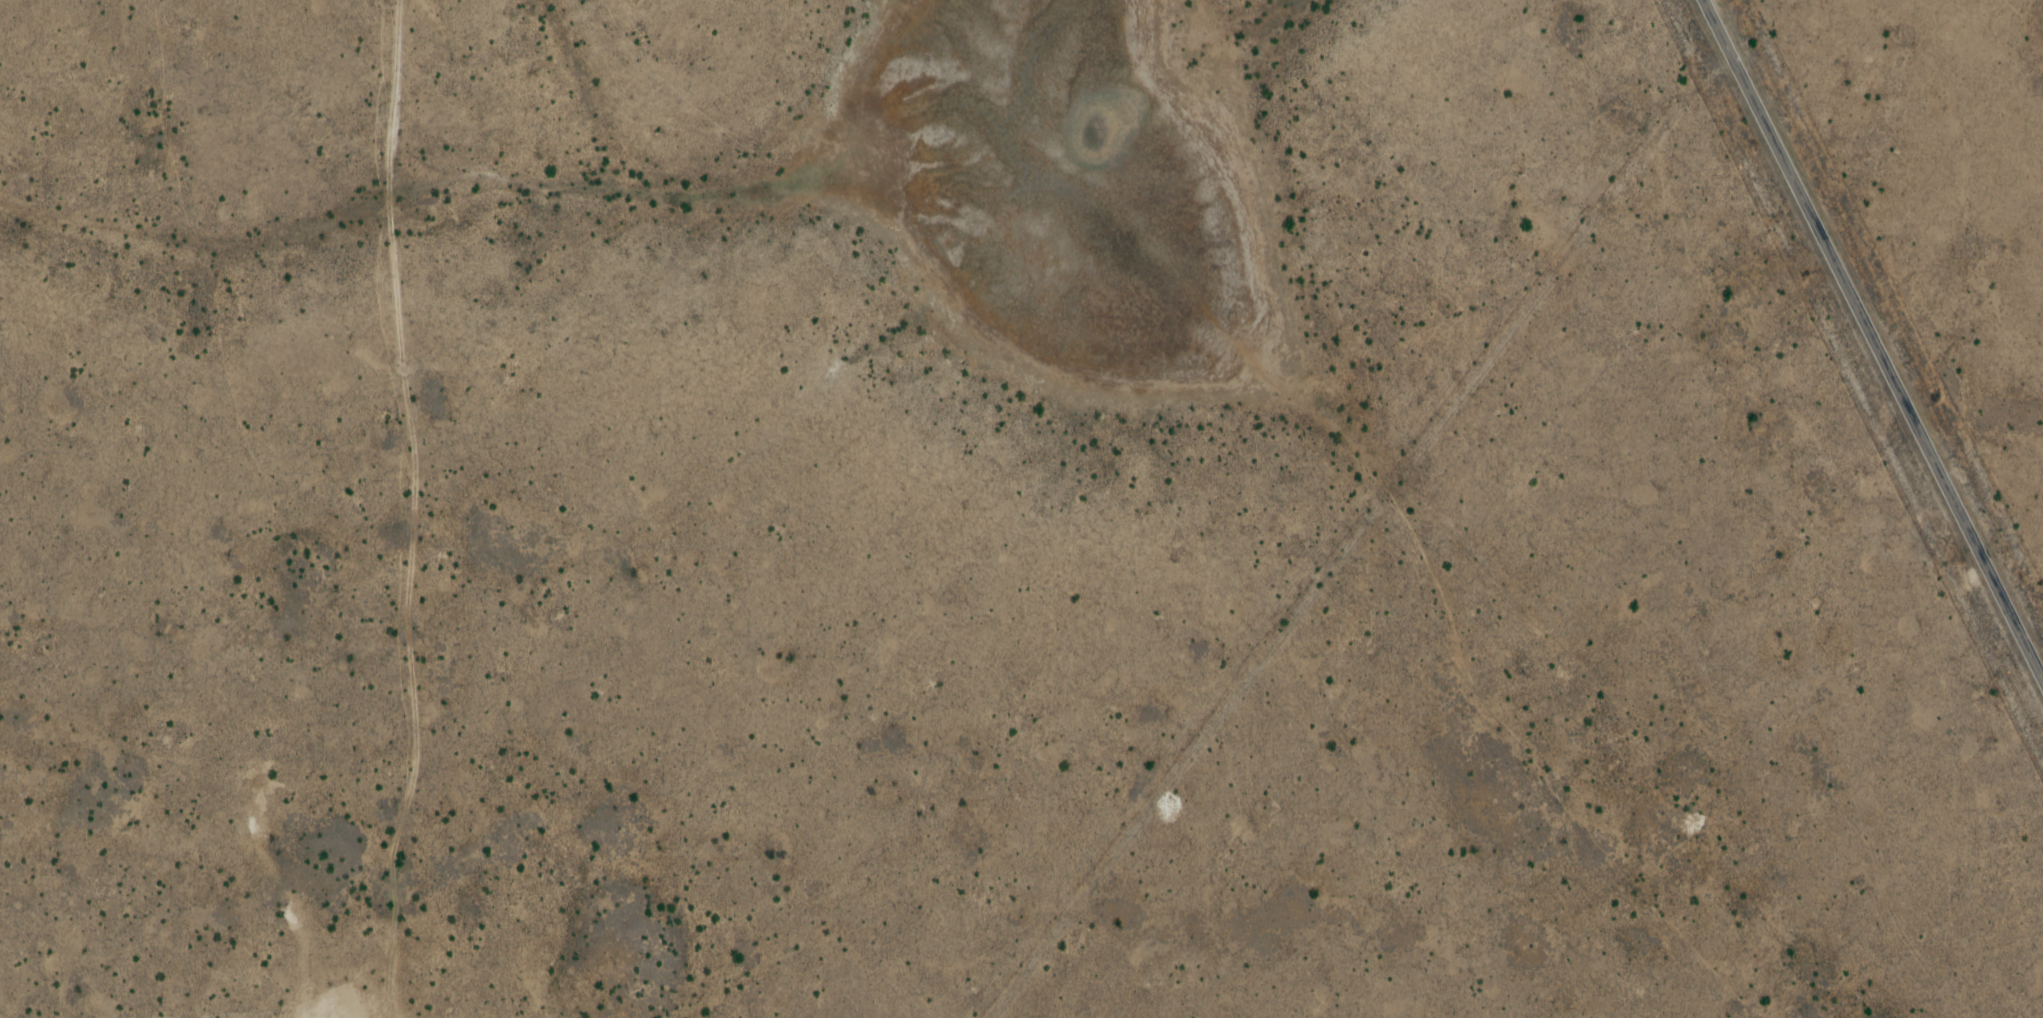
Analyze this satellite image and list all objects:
road: (1875, 335)

